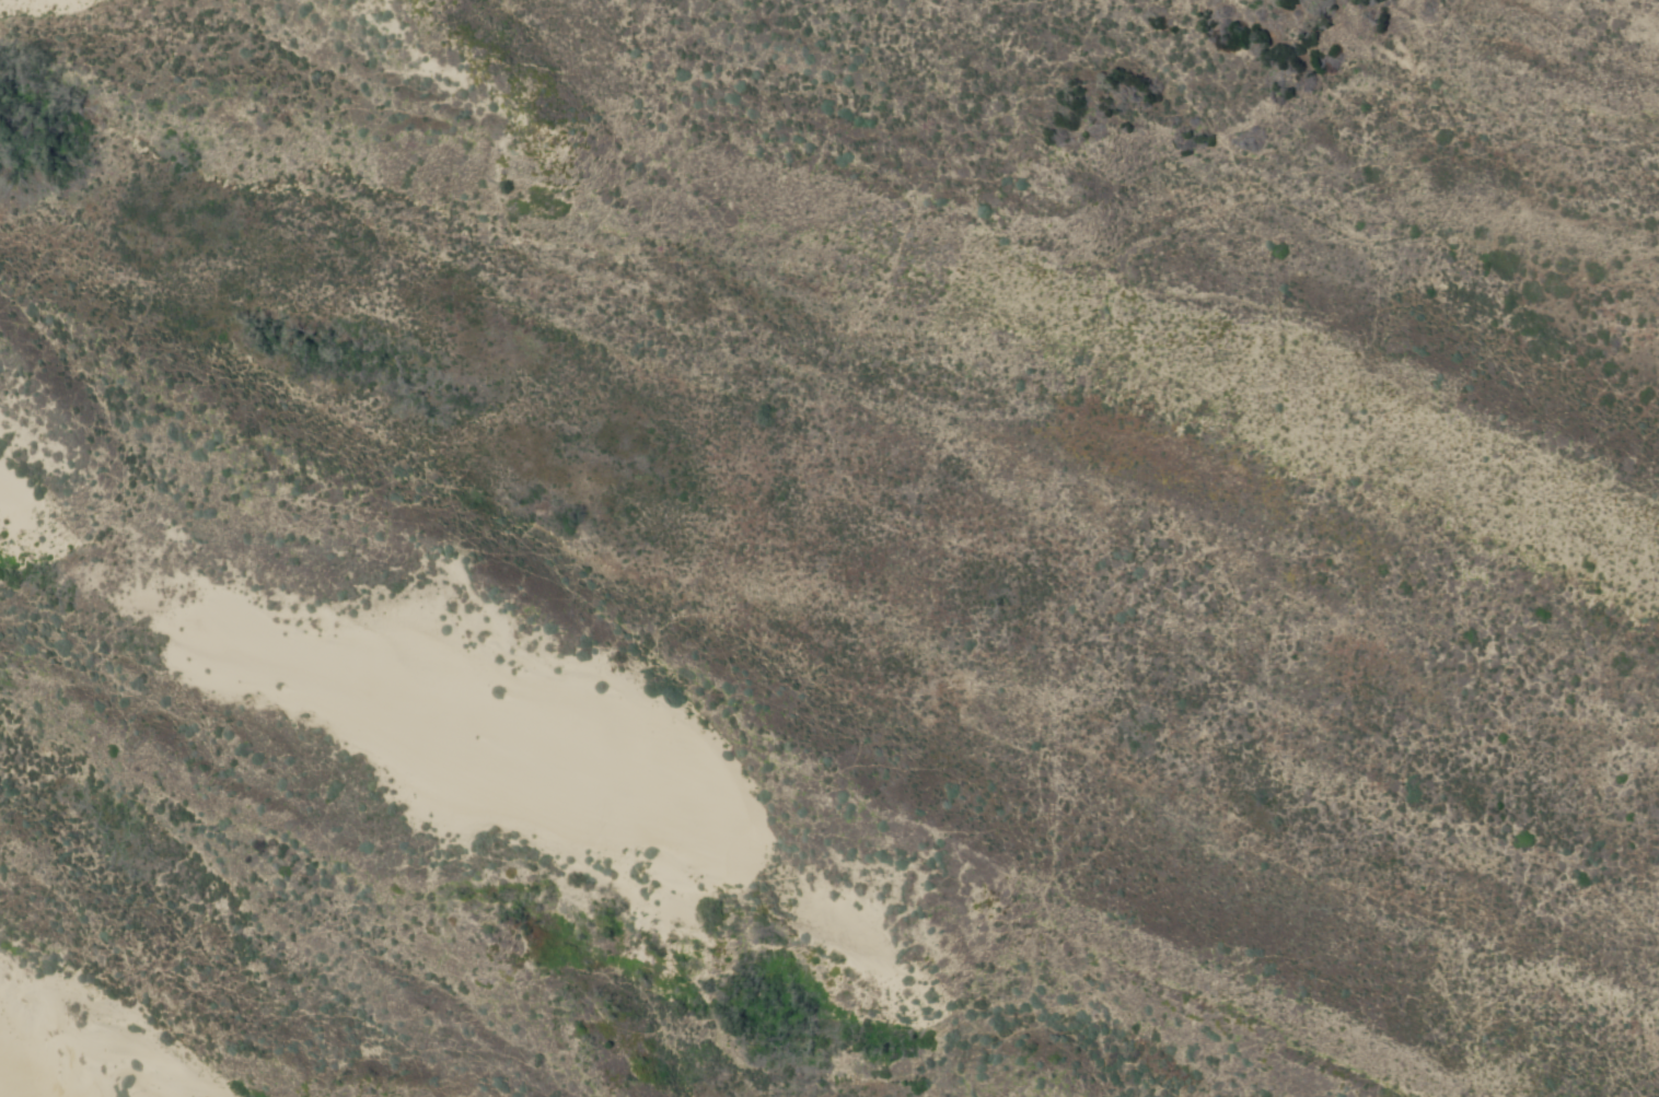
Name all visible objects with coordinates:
park: (829, 548)

